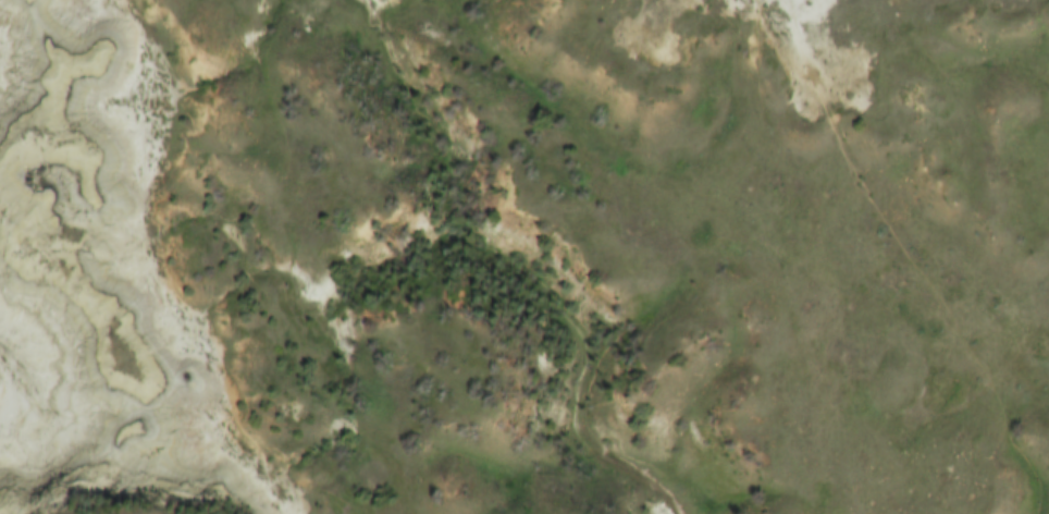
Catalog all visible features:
road: (941, 248)

